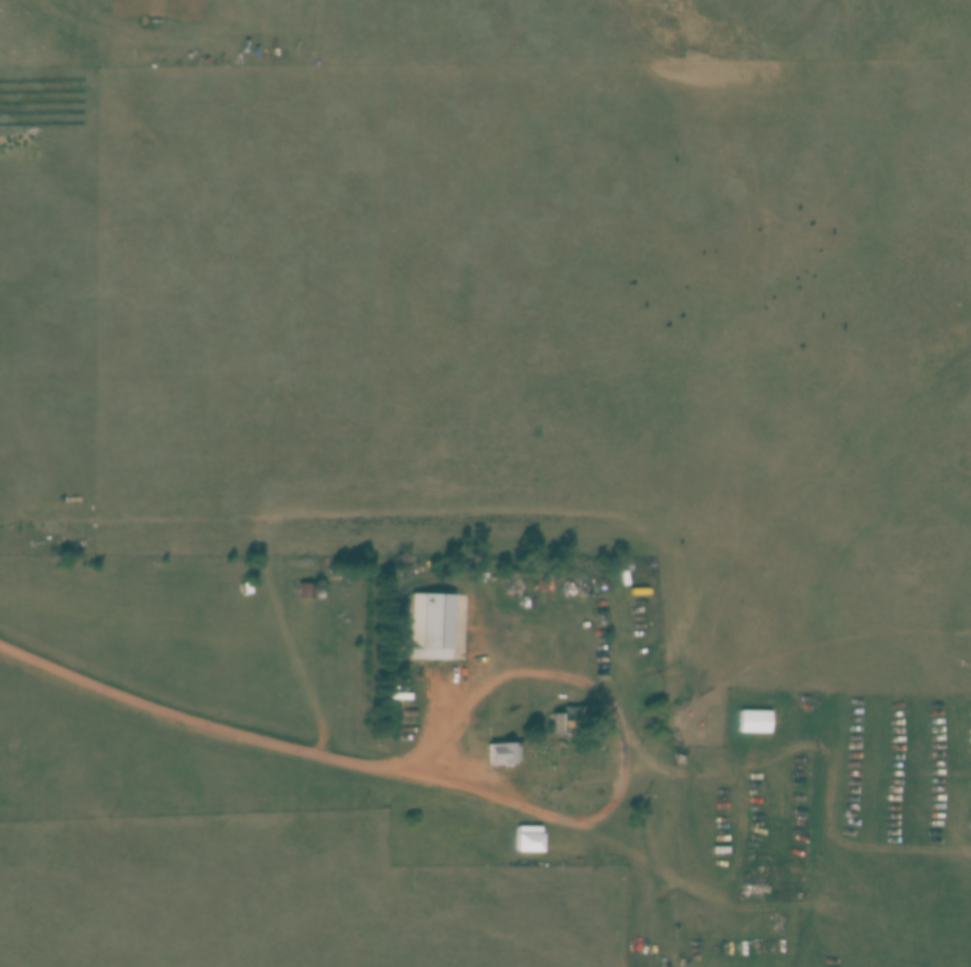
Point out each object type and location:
building: (305, 590)
building: (431, 626)
road: (180, 711)
building: (573, 712)
building: (556, 721)
building: (754, 721)
road: (621, 736)
building: (500, 752)
building: (679, 758)
building: (528, 839)

